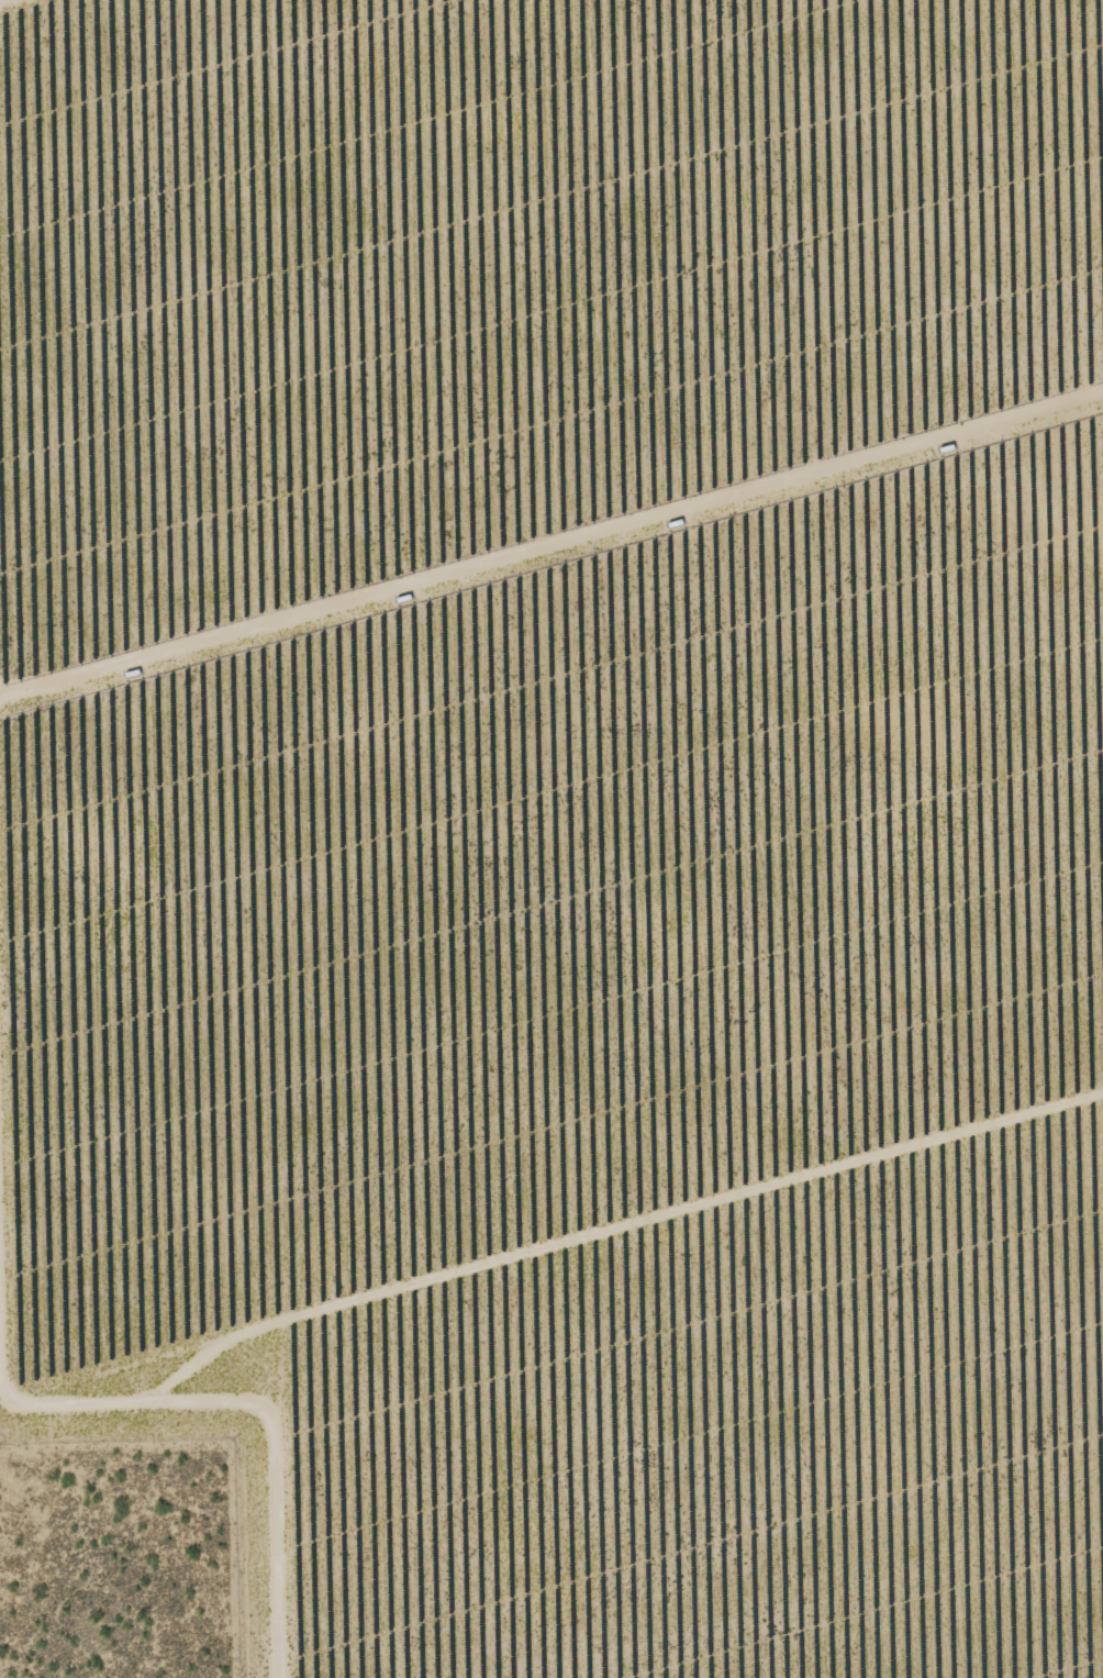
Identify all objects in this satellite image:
solar farm: (565, 815)

